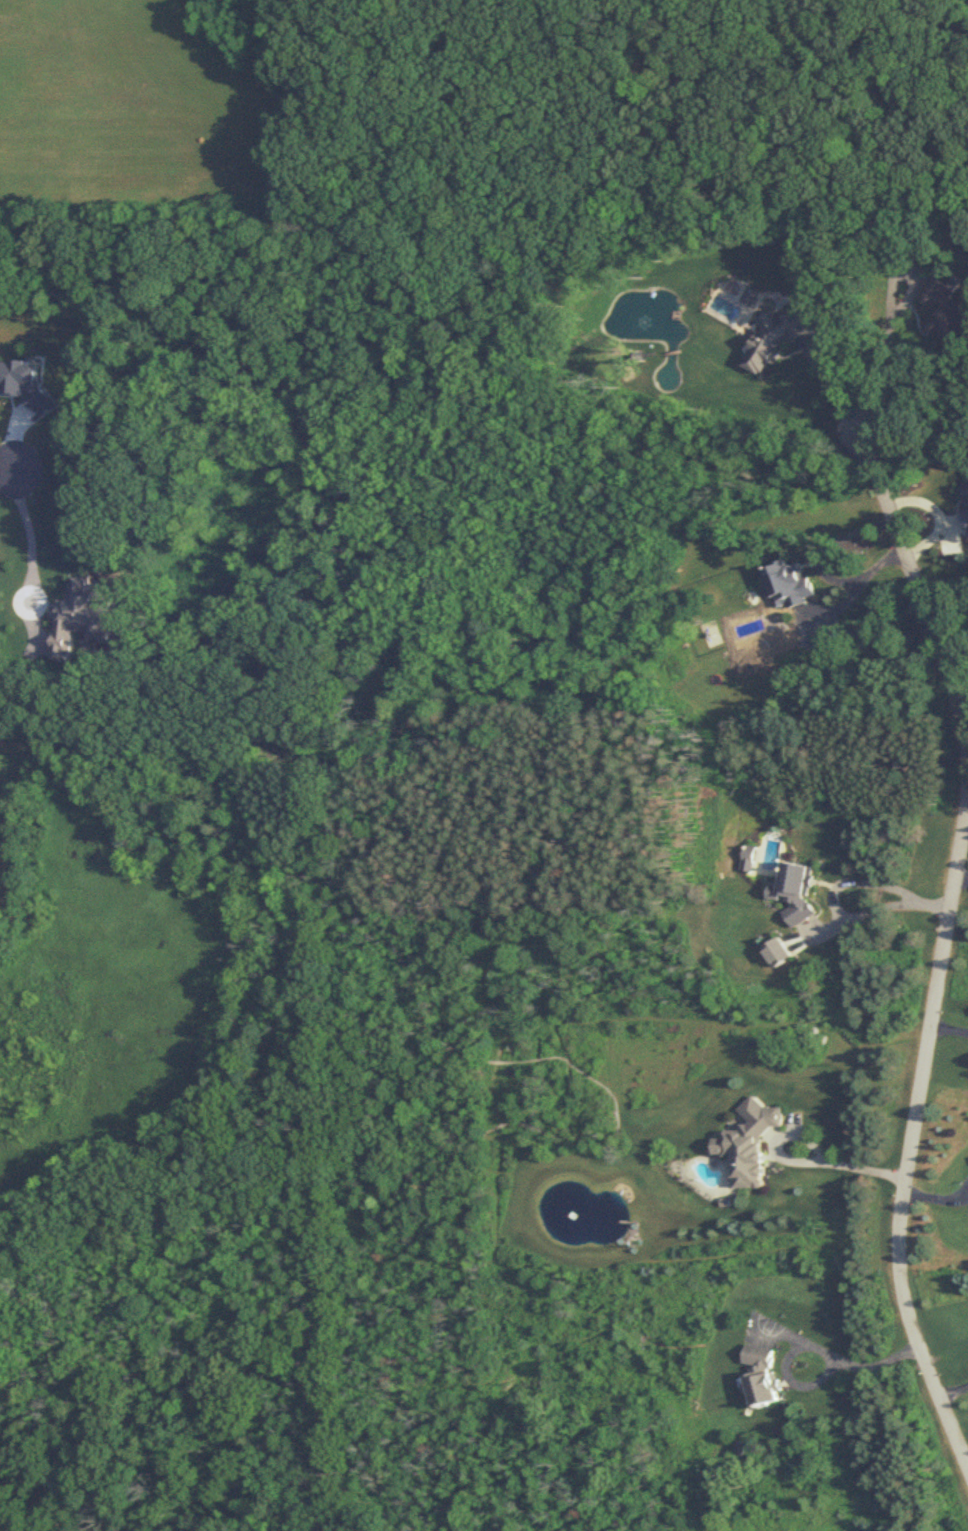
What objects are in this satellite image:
building: (946, 311)
building: (777, 337)
road: (880, 355)
road: (832, 384)
road: (5, 471)
building: (967, 520)
road: (30, 535)
road: (818, 565)
building: (790, 583)
road: (917, 586)
building: (797, 891)
road: (840, 914)
road: (913, 1121)
building: (752, 1142)
road: (806, 1160)
road: (811, 1346)
building: (764, 1377)
road: (954, 1388)

